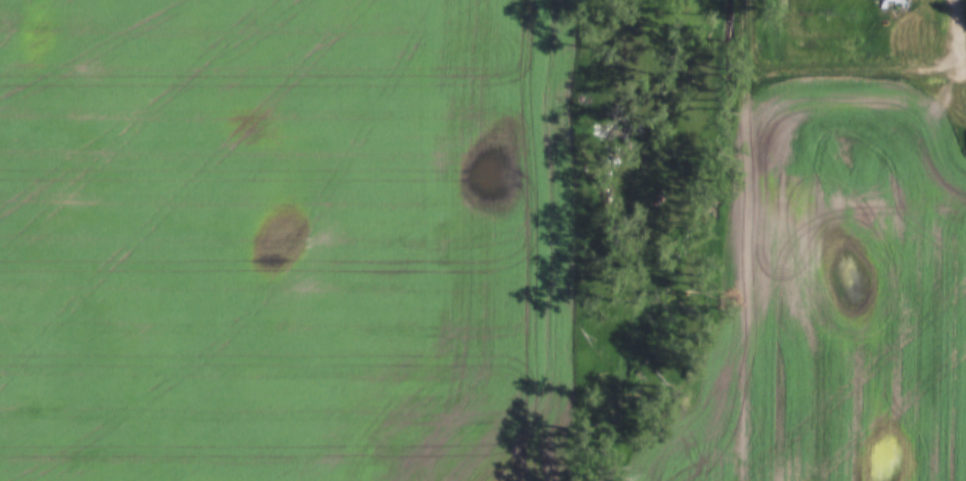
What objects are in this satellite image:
building: (891, 4)
road: (960, 28)
road: (743, 240)

